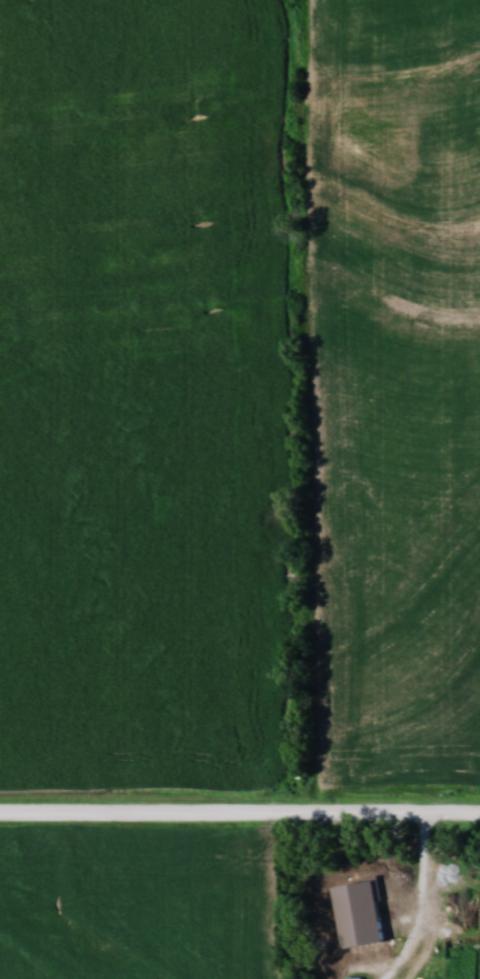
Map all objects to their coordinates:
road: (240, 810)
road: (421, 912)
building: (358, 922)

